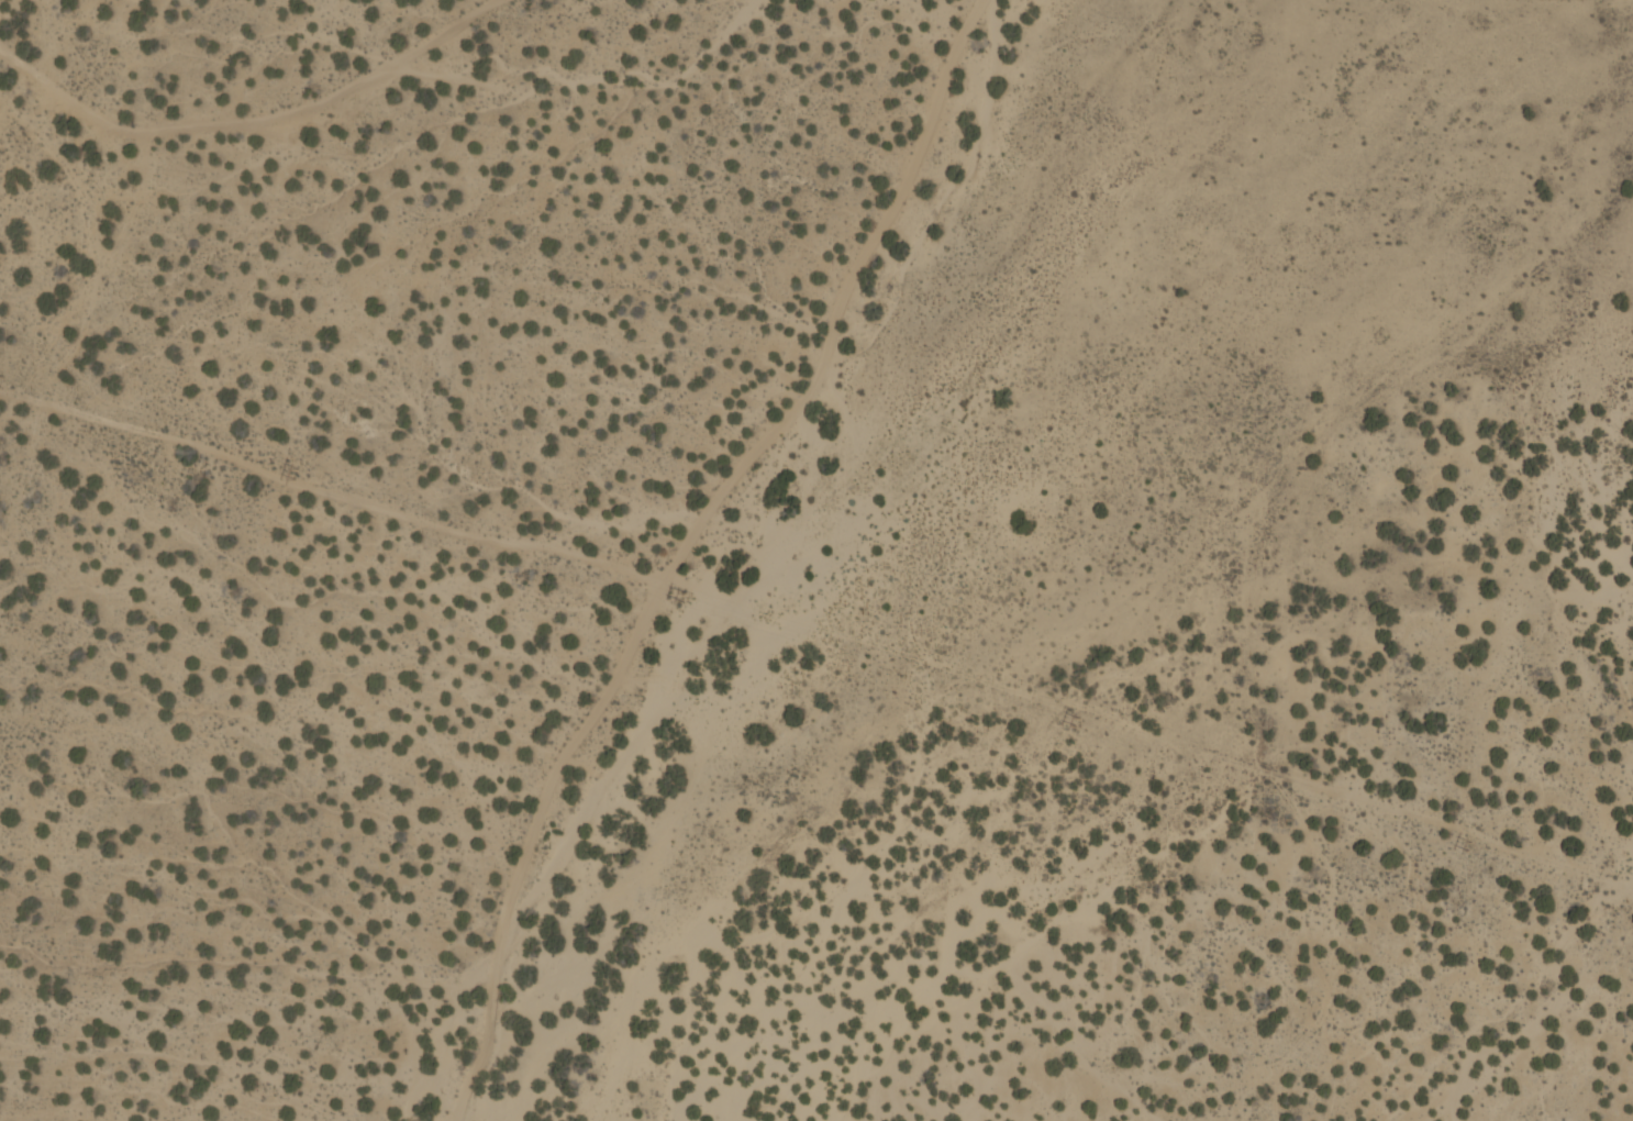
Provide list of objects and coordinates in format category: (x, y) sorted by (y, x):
power tower: (2, 381)
power tower: (297, 475)
road: (766, 560)
power tower: (684, 596)
power tower: (1078, 721)
power tower: (1469, 845)

